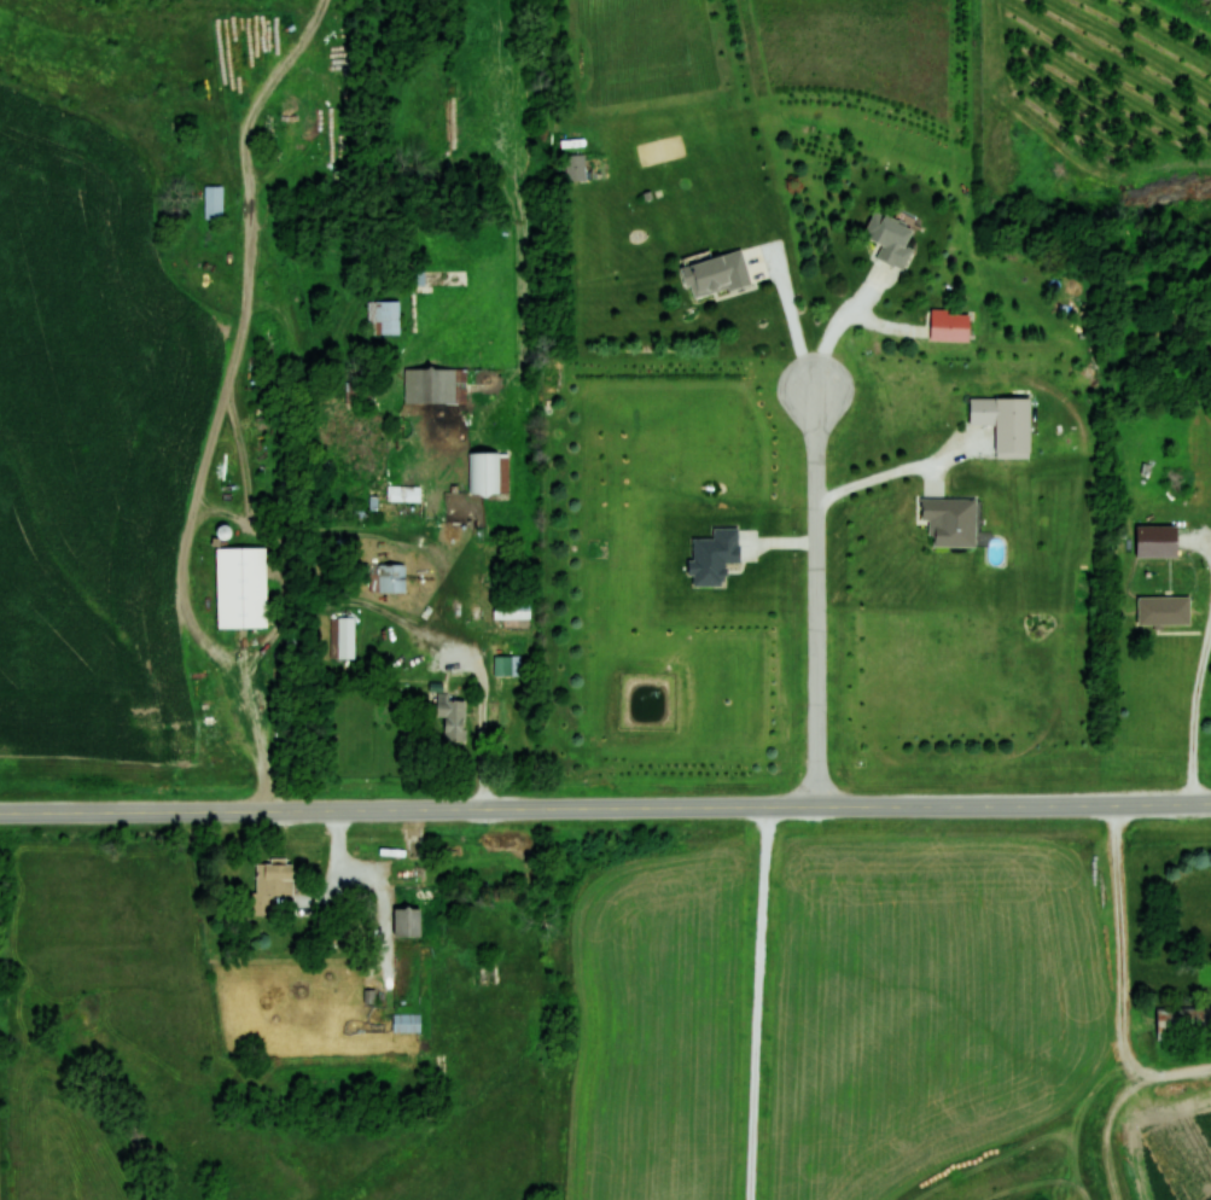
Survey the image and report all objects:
building: (574, 167)
building: (212, 202)
building: (889, 238)
building: (715, 273)
building: (383, 316)
building: (948, 325)
building: (435, 384)
building: (982, 409)
building: (488, 472)
building: (402, 494)
building: (948, 520)
building: (386, 577)
building: (240, 587)
road: (819, 595)
building: (511, 611)
building: (1163, 611)
building: (342, 637)
building: (506, 666)
building: (452, 717)
road: (605, 809)
building: (270, 885)
building: (404, 921)
building: (406, 1021)
building: (1183, 1023)

